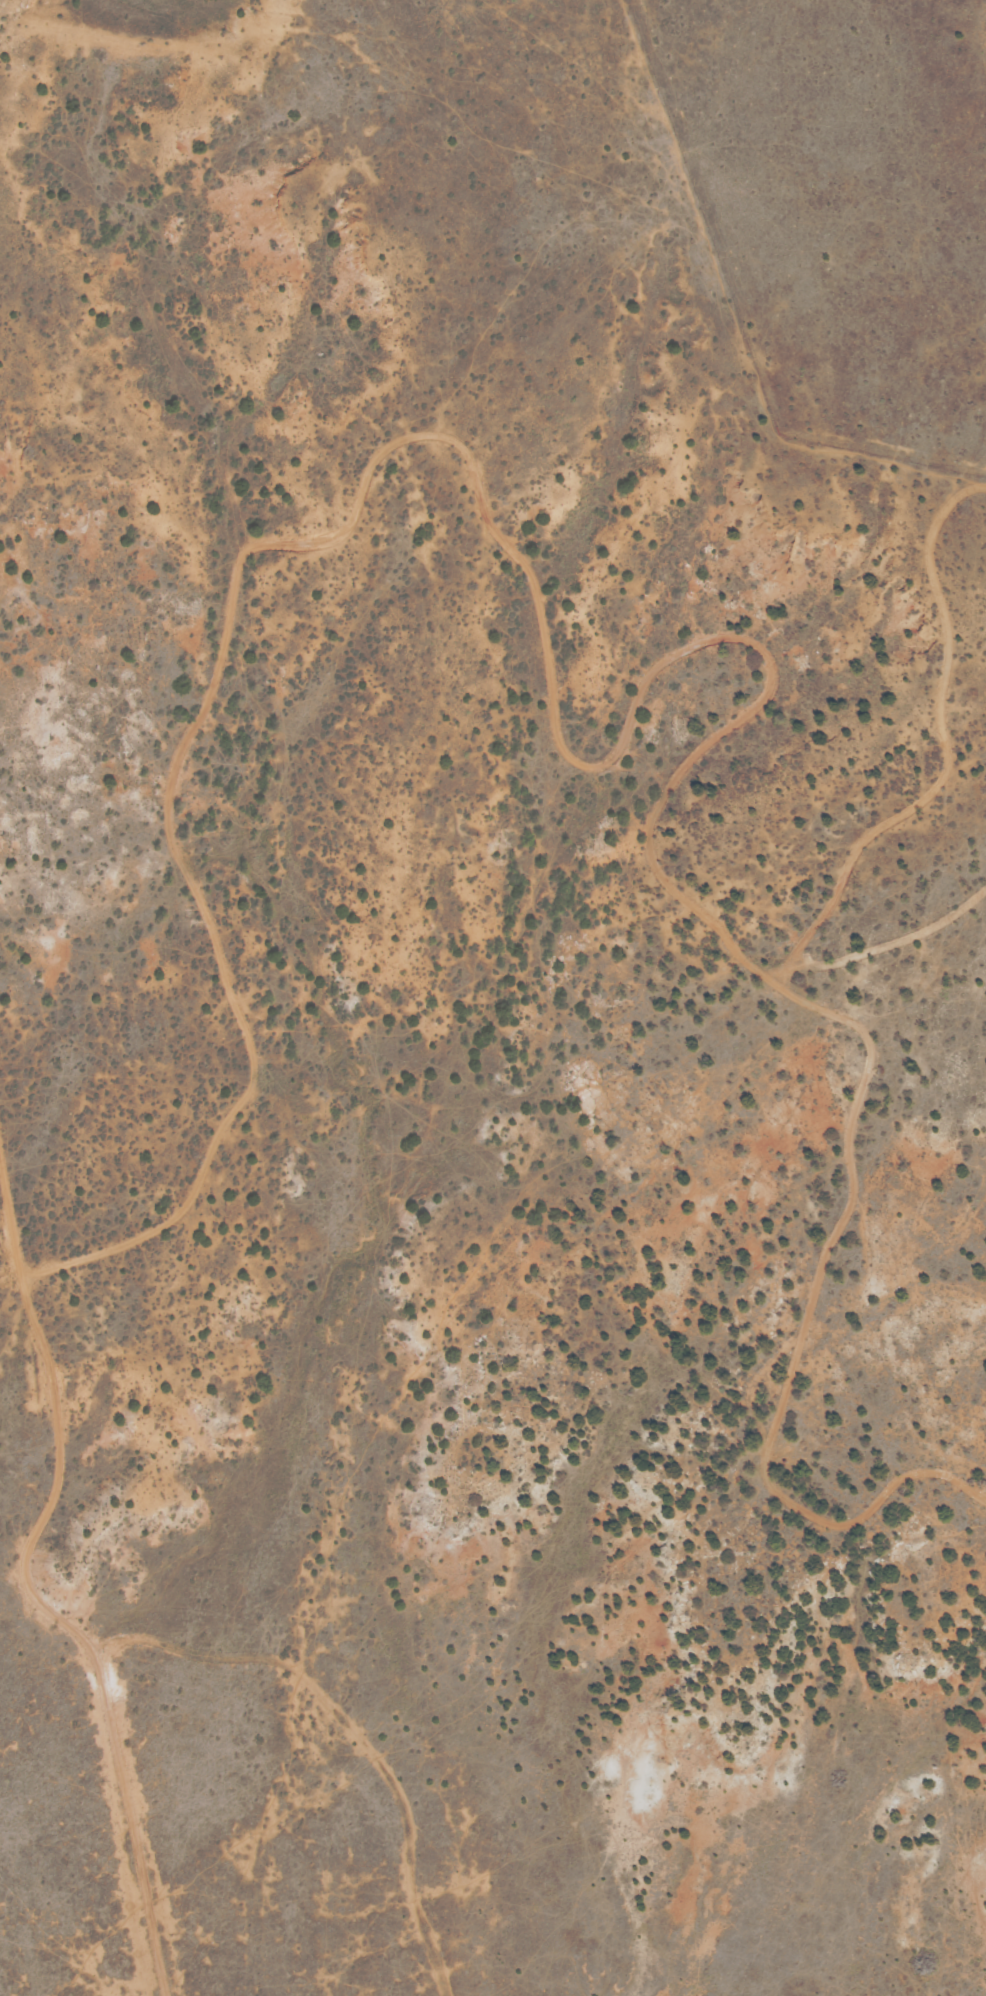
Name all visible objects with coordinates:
road: (167, 812)
road: (873, 832)
road: (10, 1231)
road: (801, 1326)
road: (134, 1821)

